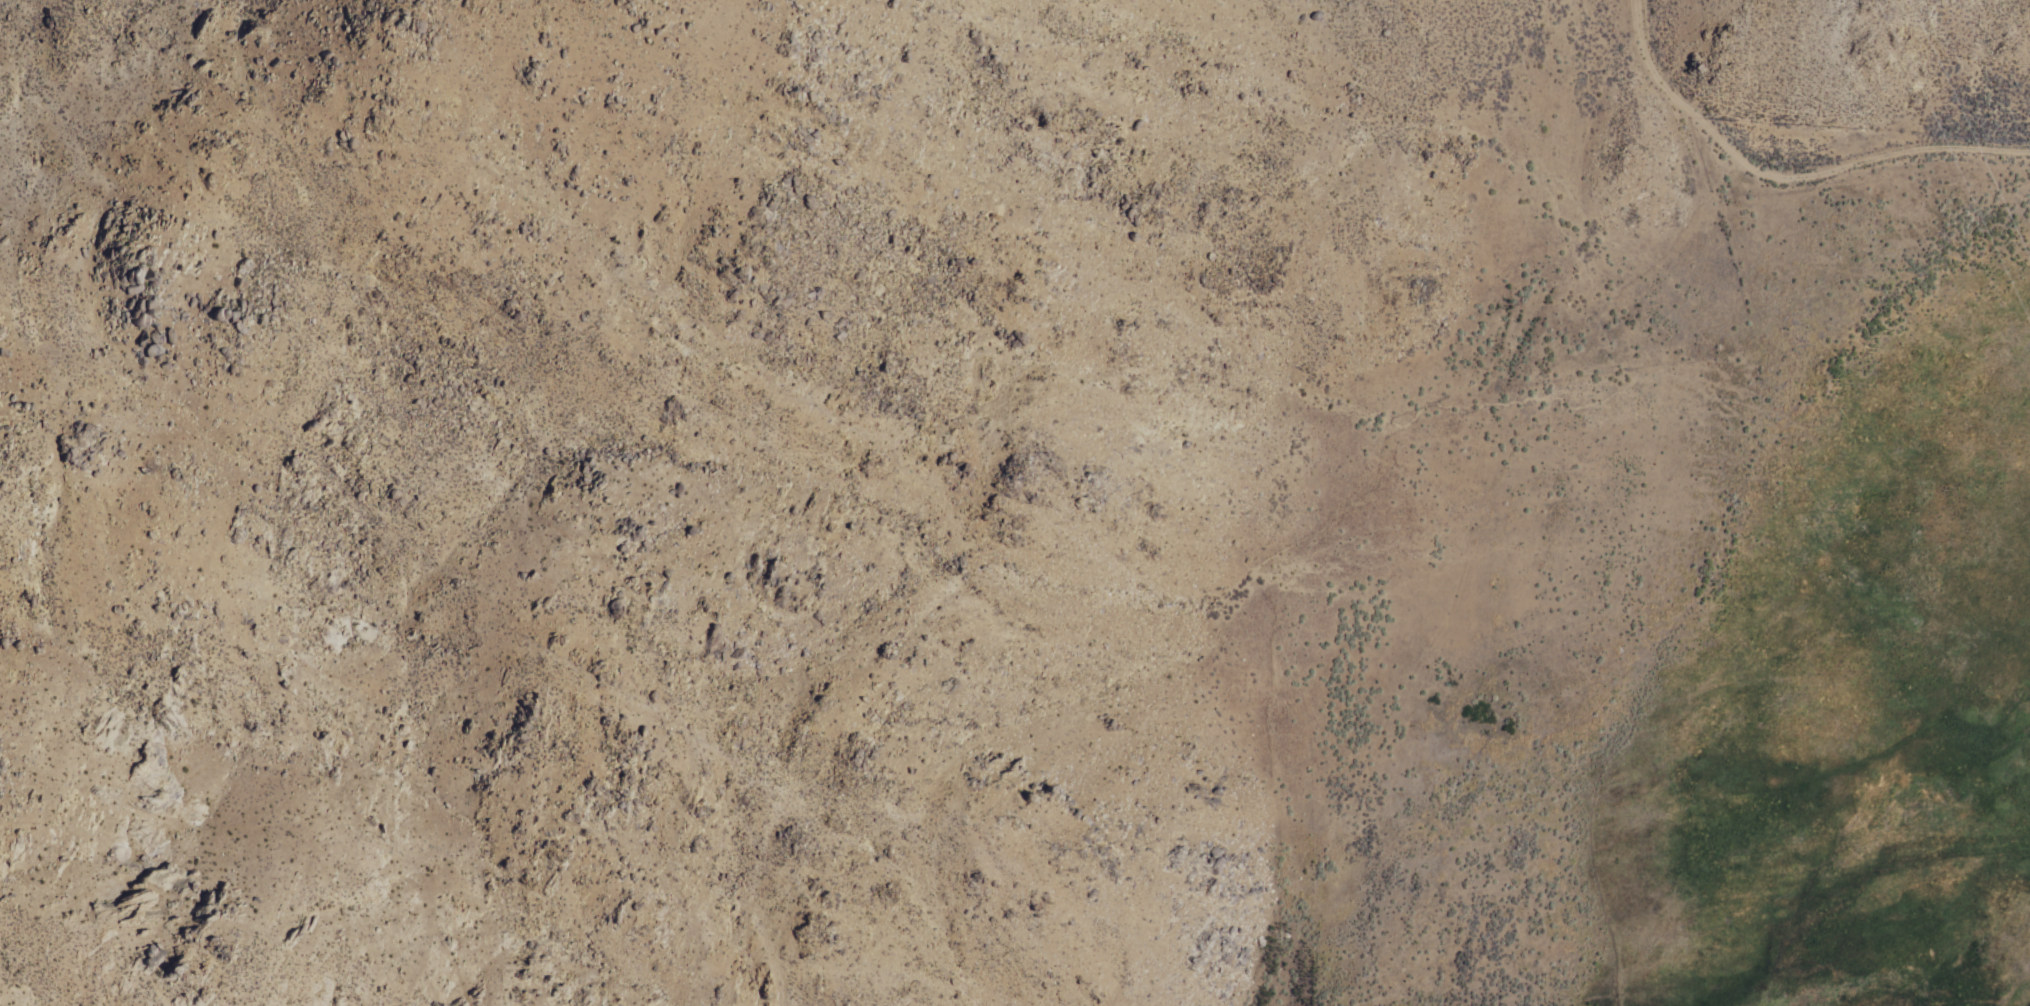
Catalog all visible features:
road: (1780, 177)

